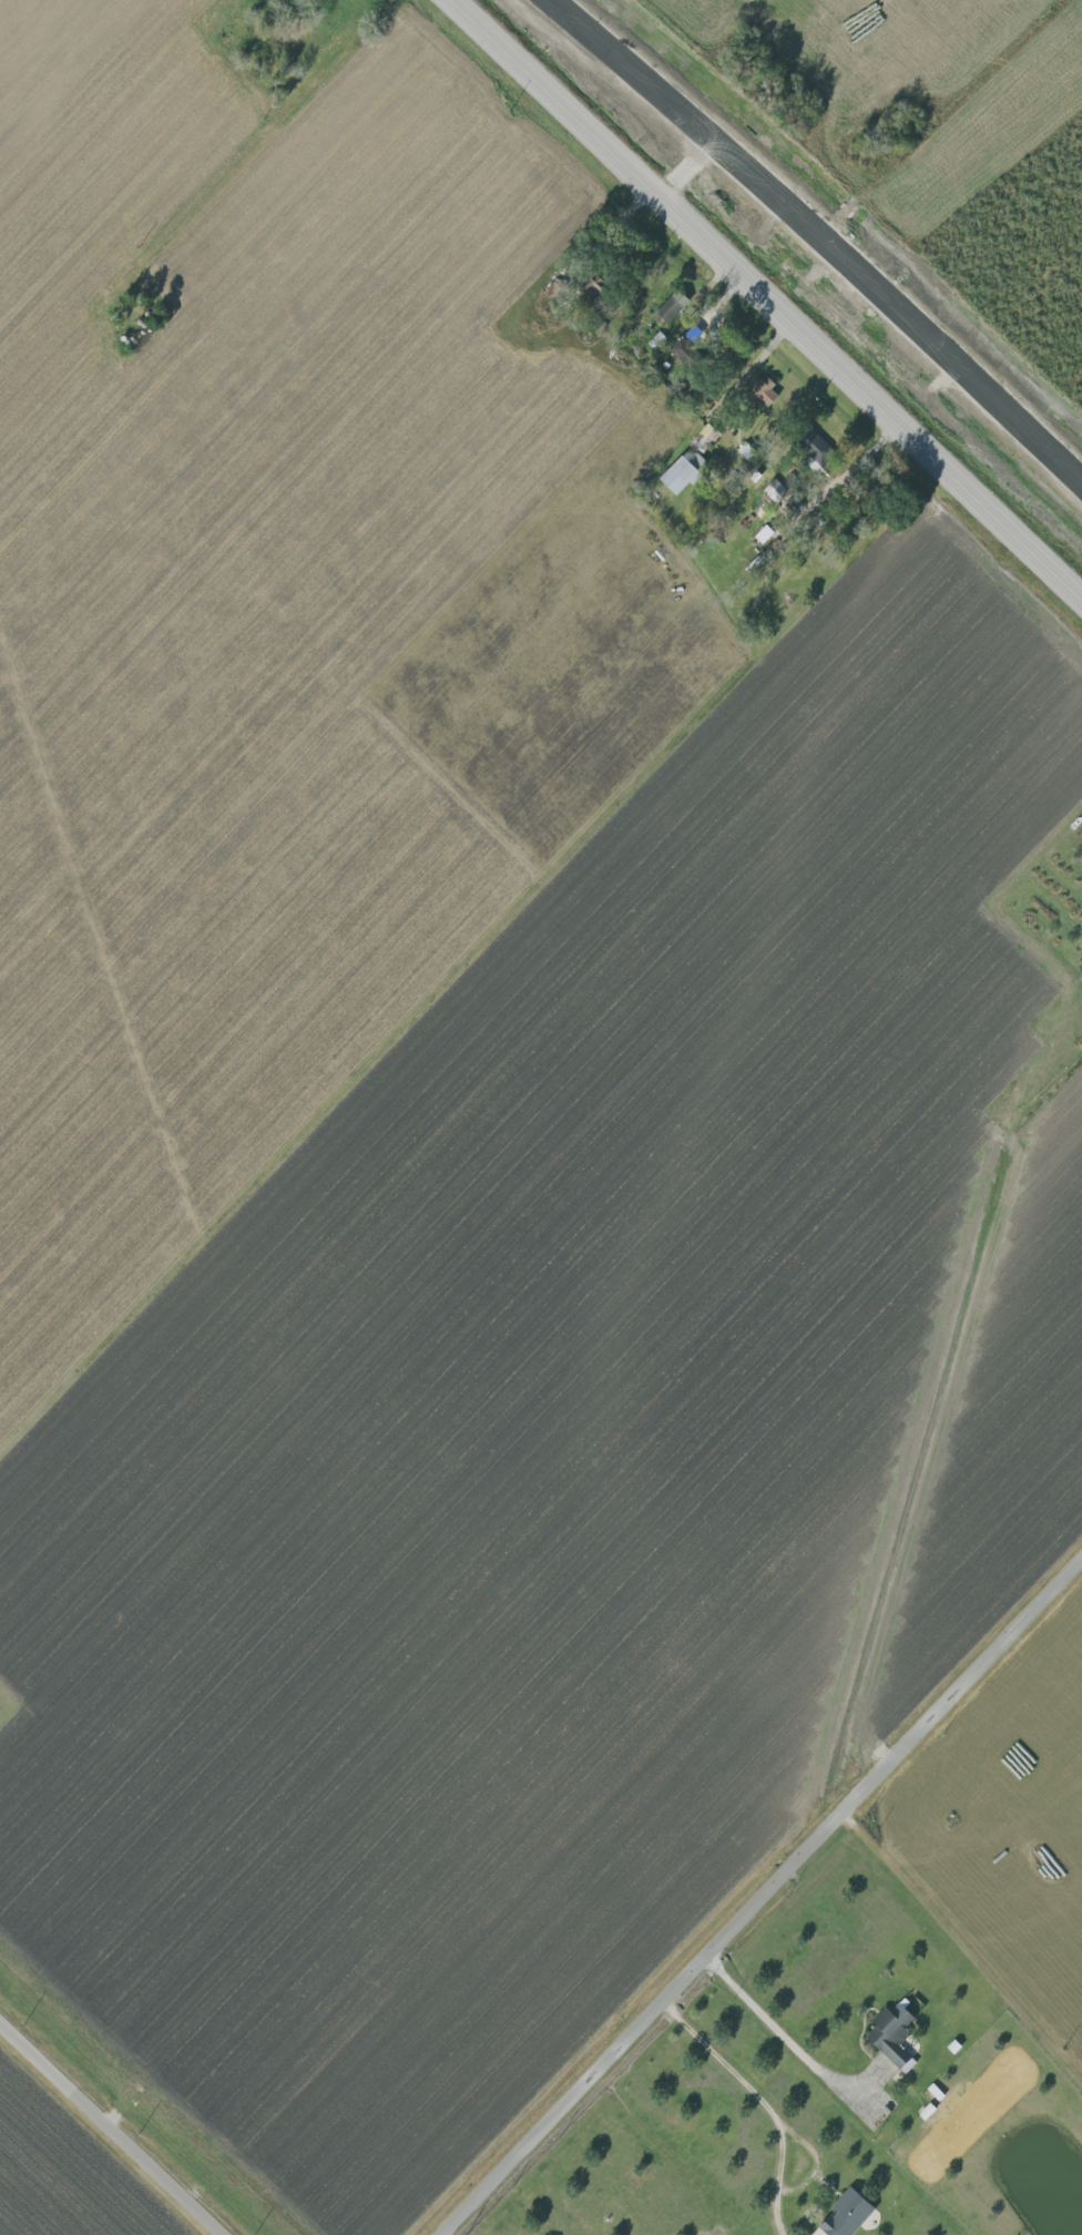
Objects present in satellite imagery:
road: (262, 149)
road: (608, 231)
building: (601, 288)
road: (767, 299)
building: (674, 306)
building: (685, 351)
building: (766, 390)
building: (819, 448)
building: (692, 462)
building: (766, 533)
road: (765, 1900)
building: (895, 2034)
road: (783, 2039)
road: (766, 2102)
road: (114, 2125)
building: (849, 2213)

